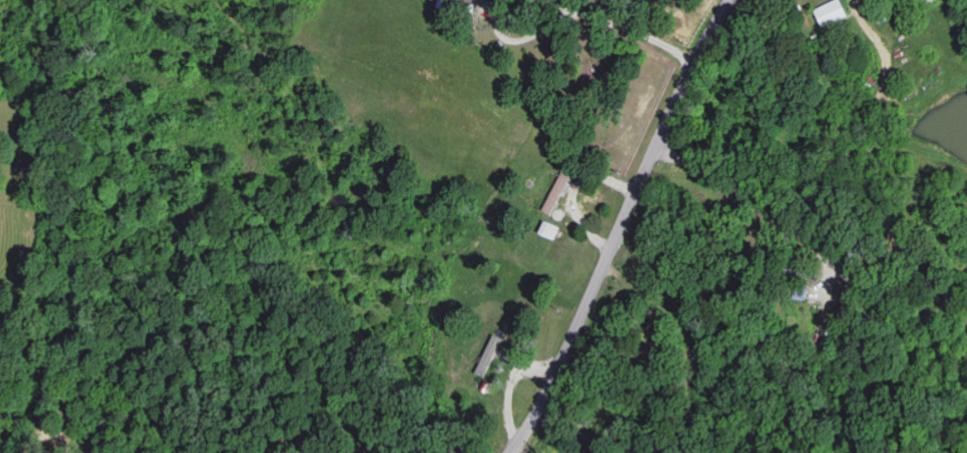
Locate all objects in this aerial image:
building: (833, 12)
building: (557, 193)
road: (623, 227)
building: (550, 230)
building: (489, 354)

